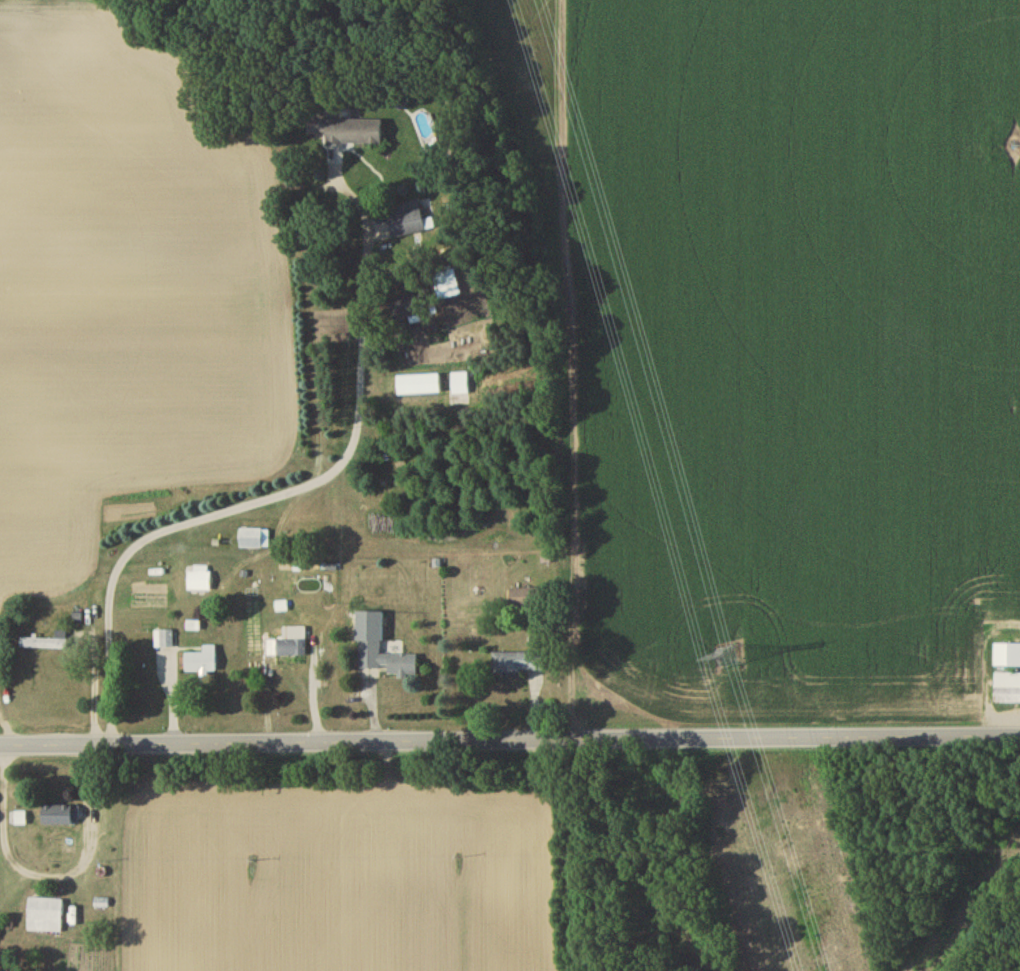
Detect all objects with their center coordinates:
building: (349, 134)
building: (406, 221)
road: (290, 492)
building: (253, 541)
building: (198, 583)
building: (527, 599)
building: (163, 641)
building: (45, 644)
building: (288, 646)
building: (1007, 657)
power tower: (730, 659)
building: (385, 661)
building: (200, 664)
building: (519, 665)
road: (321, 682)
building: (1007, 690)
road: (510, 741)
building: (57, 817)
road: (48, 877)
building: (45, 917)

